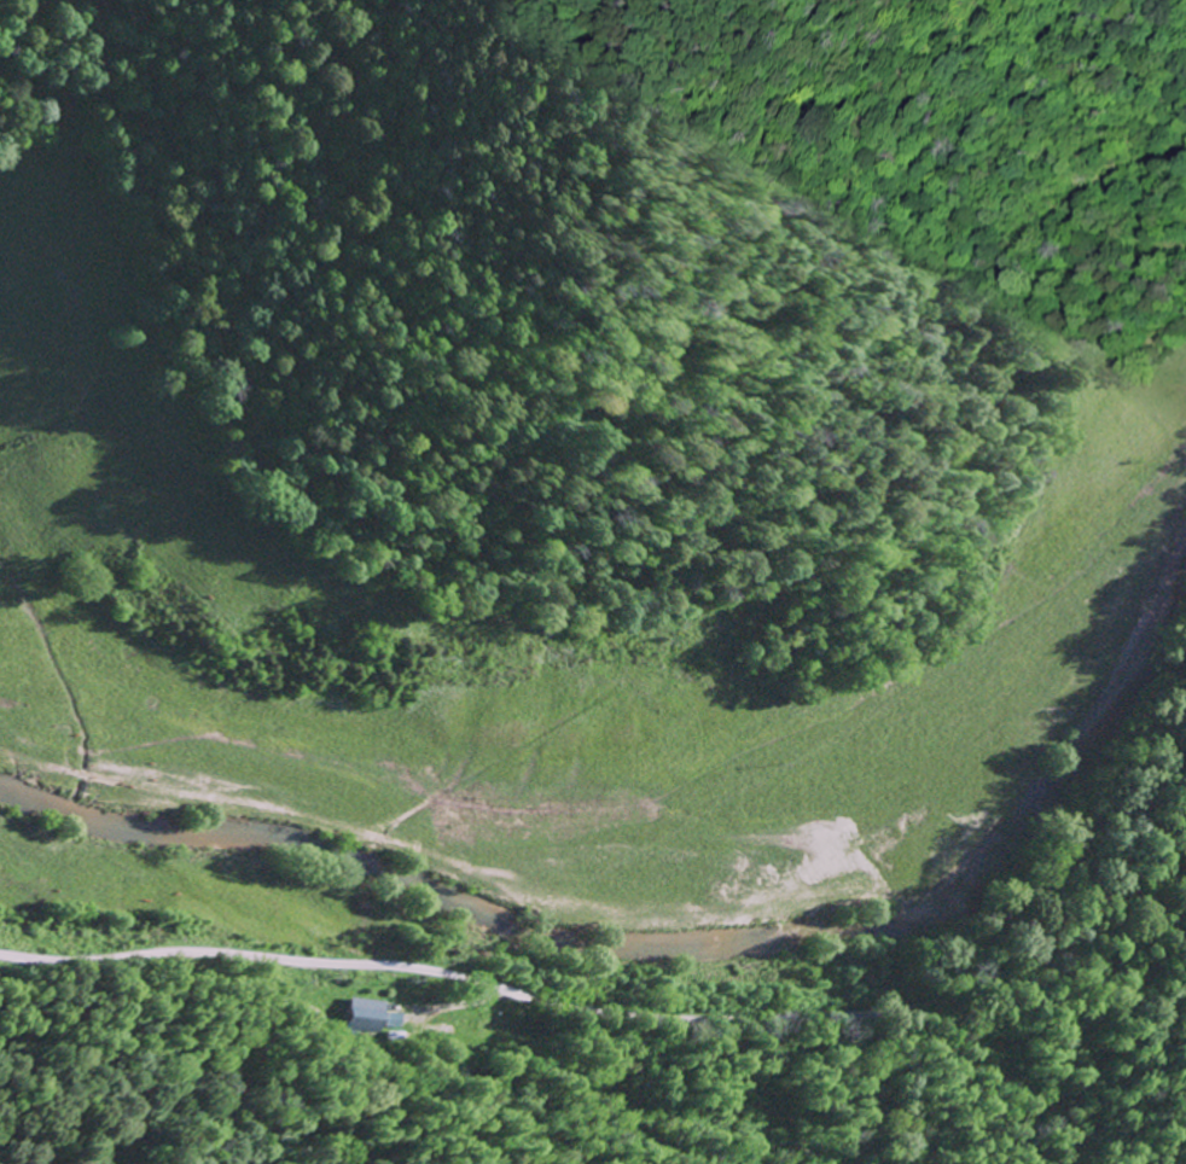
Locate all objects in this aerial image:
road: (68, 696)
road: (213, 896)
road: (623, 1014)

